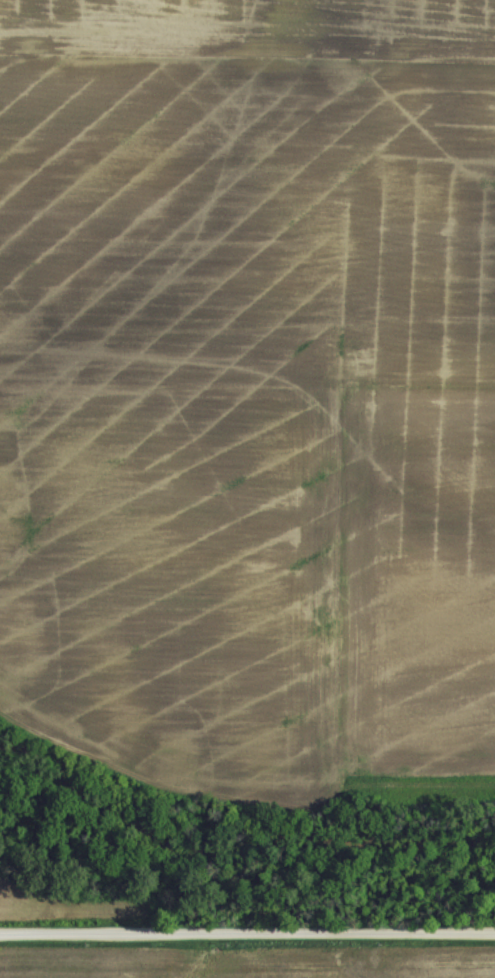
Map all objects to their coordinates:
road: (247, 927)

